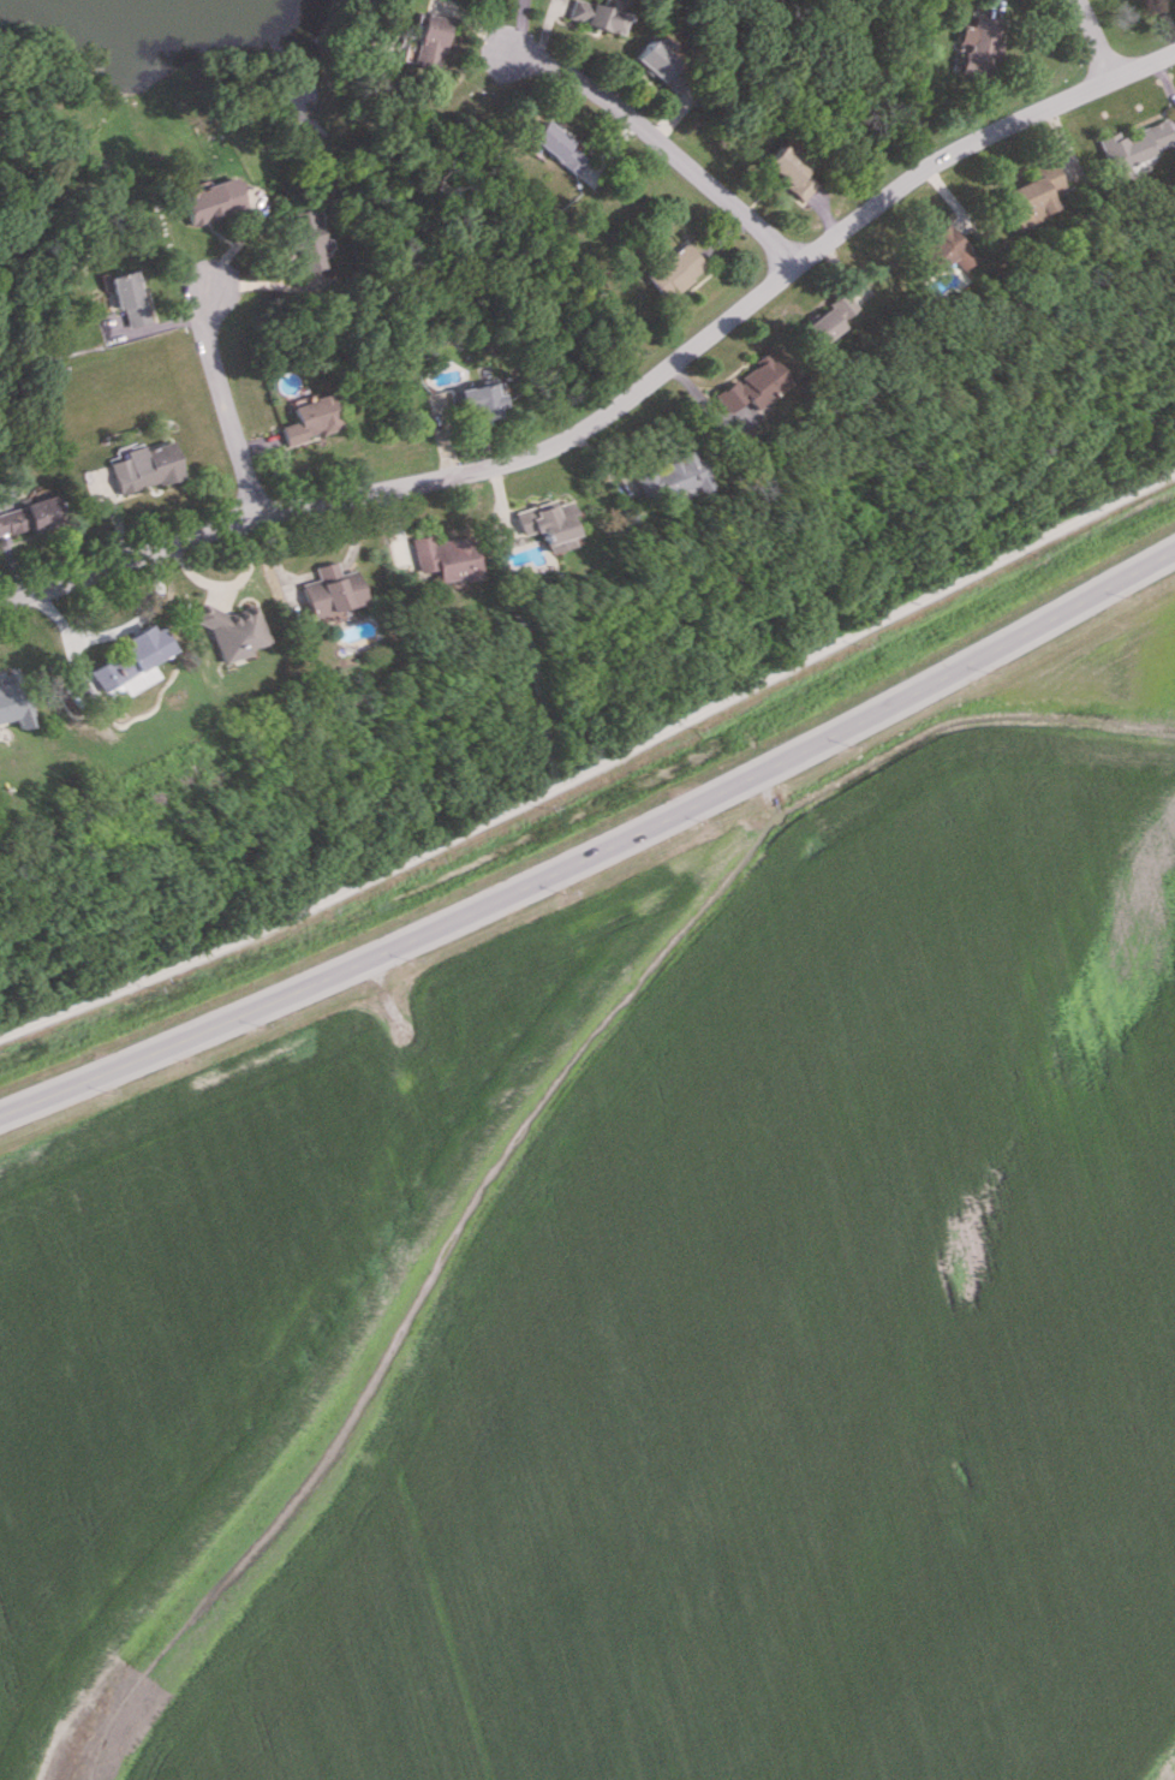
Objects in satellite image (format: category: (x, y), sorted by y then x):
building: (579, 10)
building: (606, 18)
road: (1093, 40)
building: (423, 42)
building: (974, 44)
building: (662, 61)
building: (1134, 143)
building: (555, 147)
road: (661, 151)
building: (788, 171)
building: (1031, 195)
building: (211, 200)
building: (306, 240)
building: (944, 248)
building: (673, 269)
building: (130, 298)
building: (825, 319)
building: (750, 388)
building: (478, 403)
road: (621, 404)
road: (226, 412)
building: (310, 419)
building: (145, 466)
building: (668, 476)
building: (28, 514)
building: (545, 523)
building: (442, 558)
road: (226, 583)
building: (328, 589)
building: (232, 629)
building: (129, 661)
building: (13, 700)
road: (594, 768)
road: (597, 851)
crop: (648, 1308)

